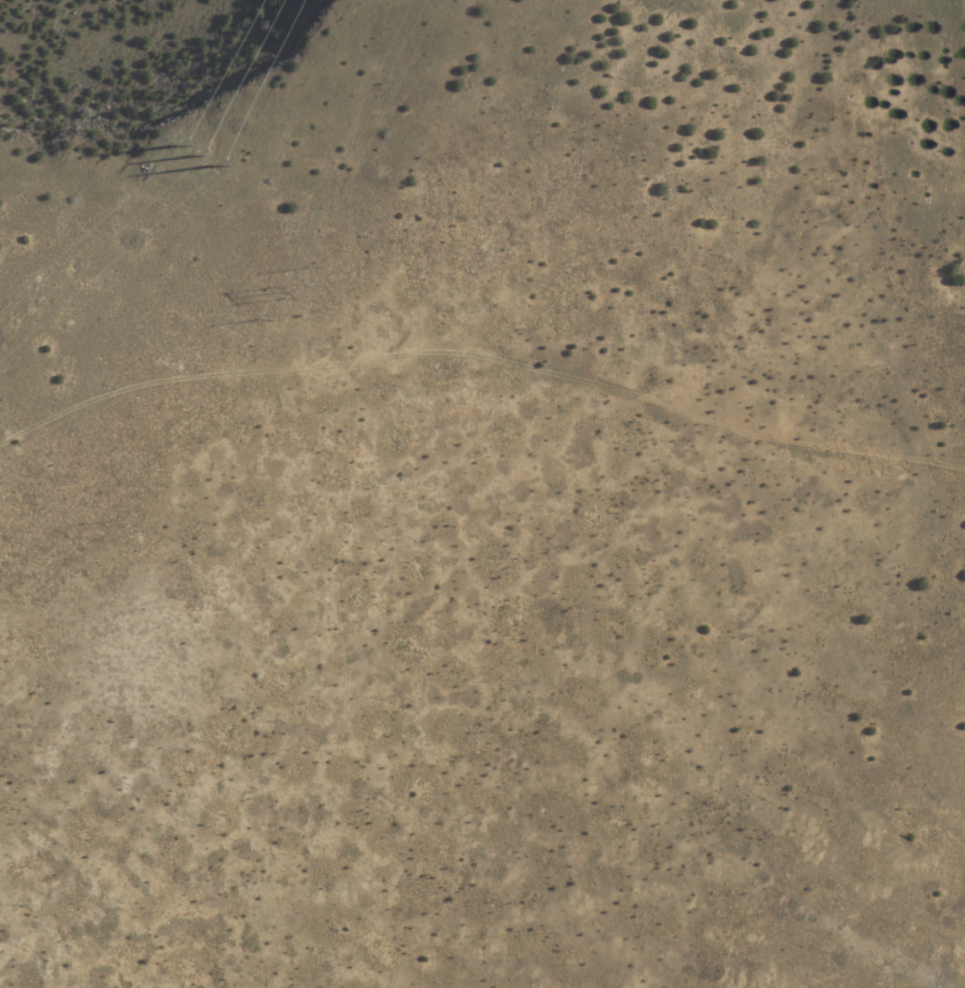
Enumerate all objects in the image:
power tower: (187, 159)
power tower: (278, 300)

